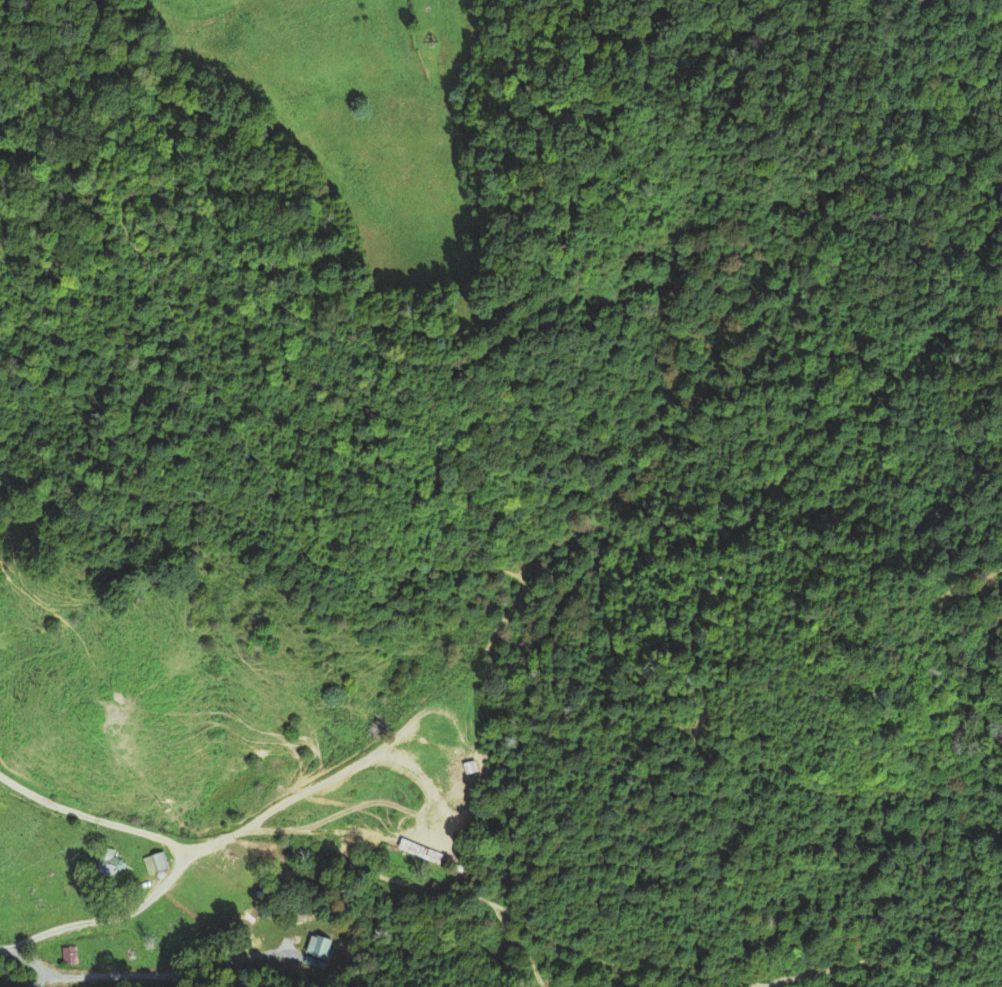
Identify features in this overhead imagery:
road: (287, 800)
road: (91, 817)
building: (425, 855)
building: (225, 861)
building: (156, 863)
building: (106, 864)
road: (102, 919)
building: (318, 948)
building: (71, 957)

